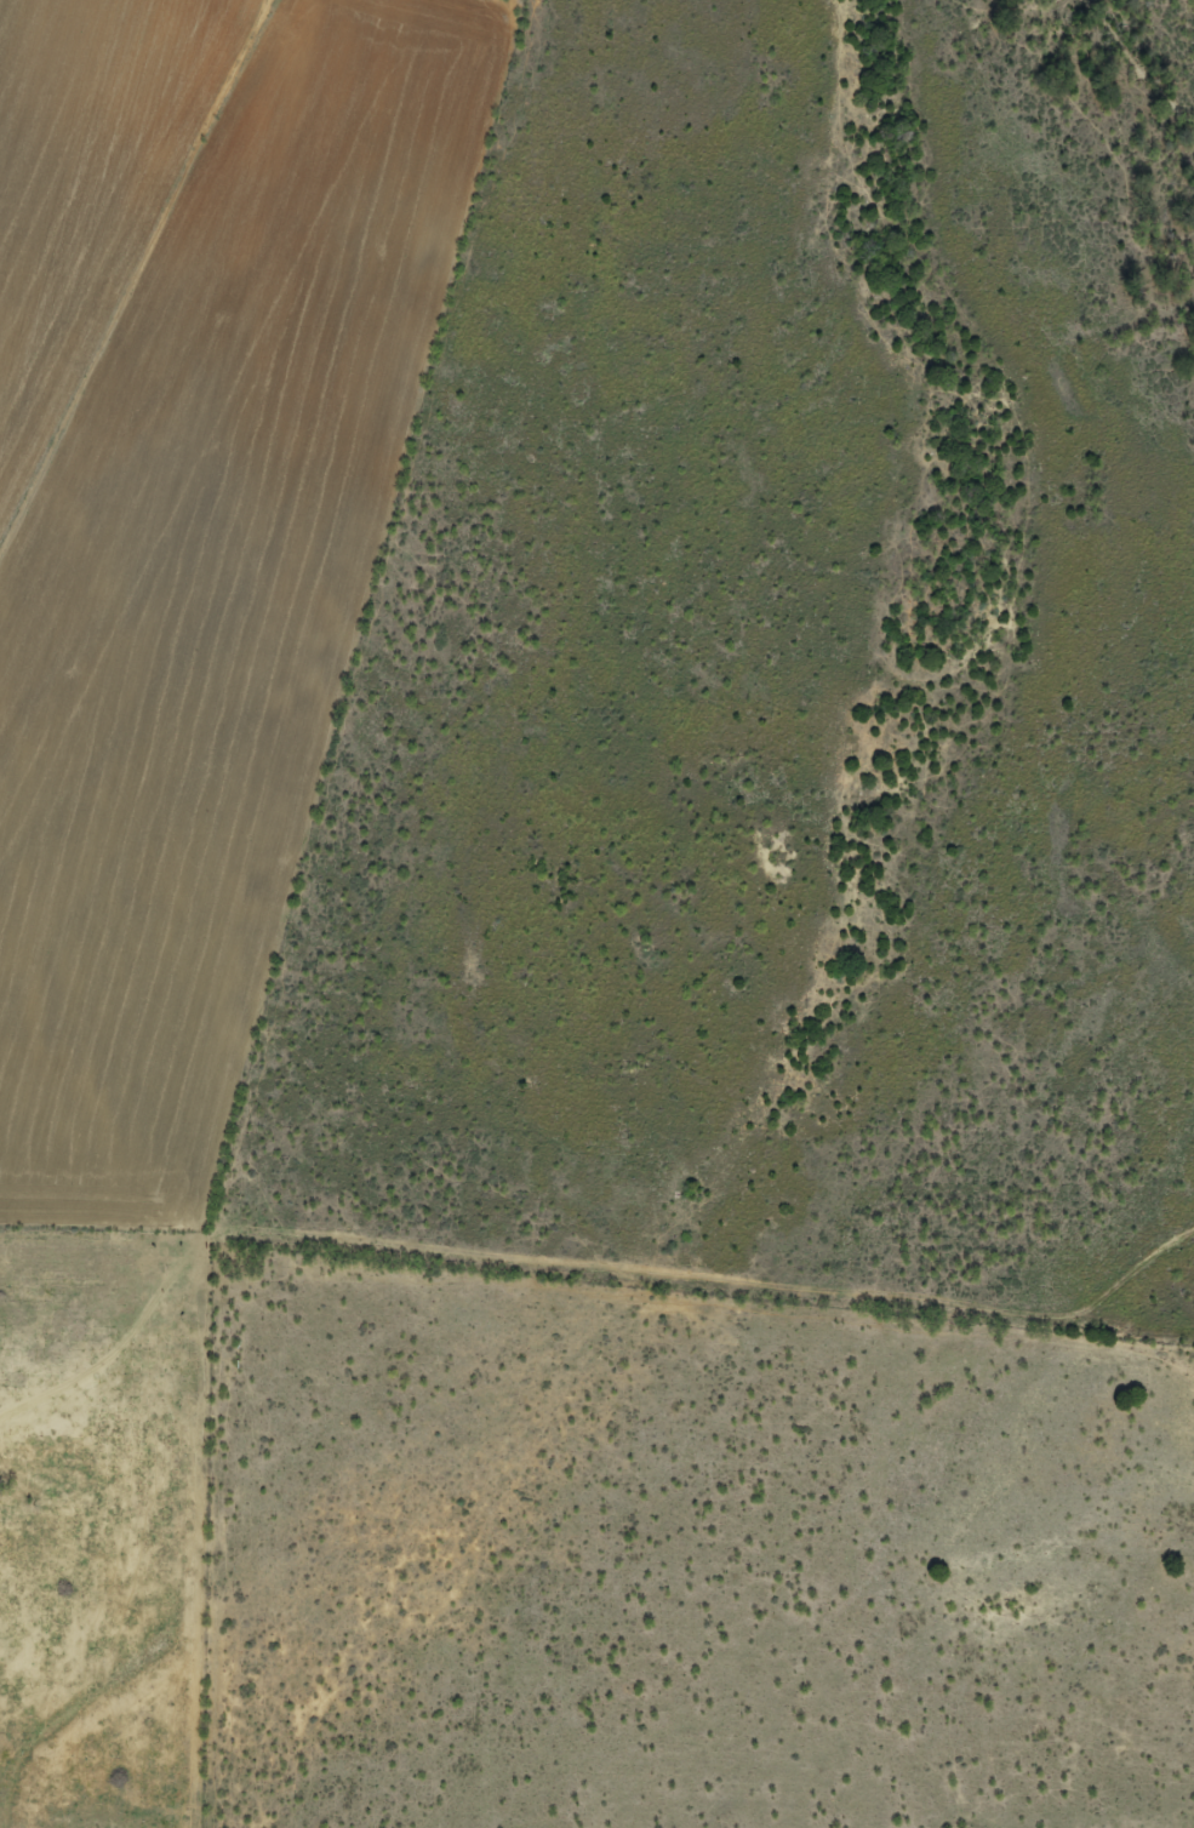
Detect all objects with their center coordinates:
road: (575, 1358)

